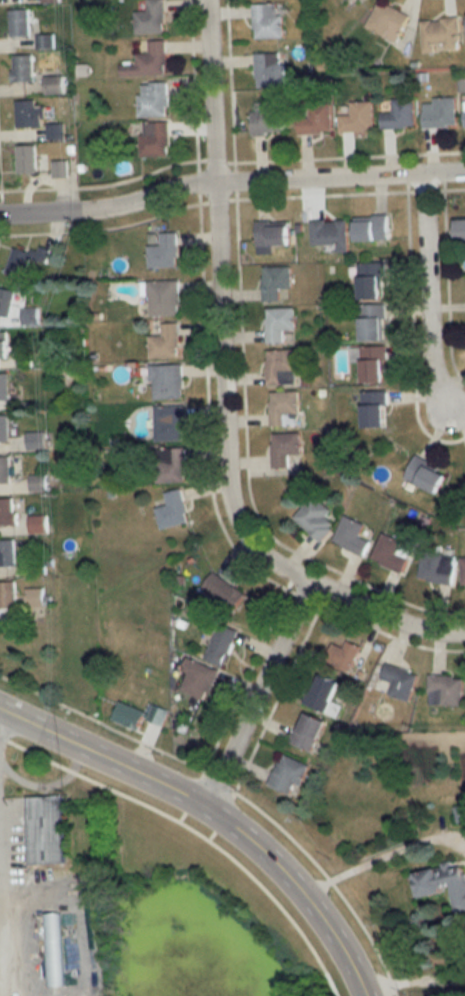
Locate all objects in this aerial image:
building: (50, 1)
building: (150, 18)
building: (266, 21)
building: (387, 21)
building: (19, 22)
building: (440, 34)
building: (44, 41)
building: (148, 62)
building: (21, 68)
building: (269, 69)
building: (54, 85)
building: (152, 100)
building: (464, 111)
building: (438, 113)
building: (398, 114)
building: (29, 115)
building: (357, 117)
building: (316, 119)
building: (268, 121)
building: (54, 131)
building: (154, 139)
building: (26, 159)
building: (59, 169)
road: (230, 183)
building: (460, 228)
building: (371, 229)
building: (272, 233)
building: (329, 234)
building: (163, 251)
building: (25, 261)
building: (370, 281)
building: (276, 282)
road: (426, 291)
building: (163, 298)
building: (5, 301)
building: (371, 322)
building: (278, 323)
building: (165, 342)
building: (4, 344)
building: (373, 364)
building: (281, 367)
building: (167, 382)
building: (4, 386)
road: (220, 391)
building: (283, 409)
building: (373, 409)
building: (169, 423)
building: (4, 428)
building: (36, 441)
building: (284, 448)
building: (170, 465)
building: (5, 469)
building: (426, 475)
building: (8, 511)
building: (173, 511)
building: (316, 518)
building: (39, 524)
building: (351, 536)
building: (391, 553)
building: (7, 556)
building: (436, 567)
building: (462, 572)
building: (224, 592)
building: (8, 594)
building: (35, 597)
building: (222, 644)
building: (343, 655)
building: (199, 679)
building: (400, 681)
building: (445, 690)
road: (256, 691)
building: (324, 695)
building: (139, 715)
building: (308, 731)
building: (288, 774)
road: (233, 793)
building: (460, 813)
road: (215, 814)
building: (46, 830)
road: (194, 832)
road: (383, 855)
building: (442, 884)
road: (1, 940)
building: (55, 950)
road: (414, 983)

